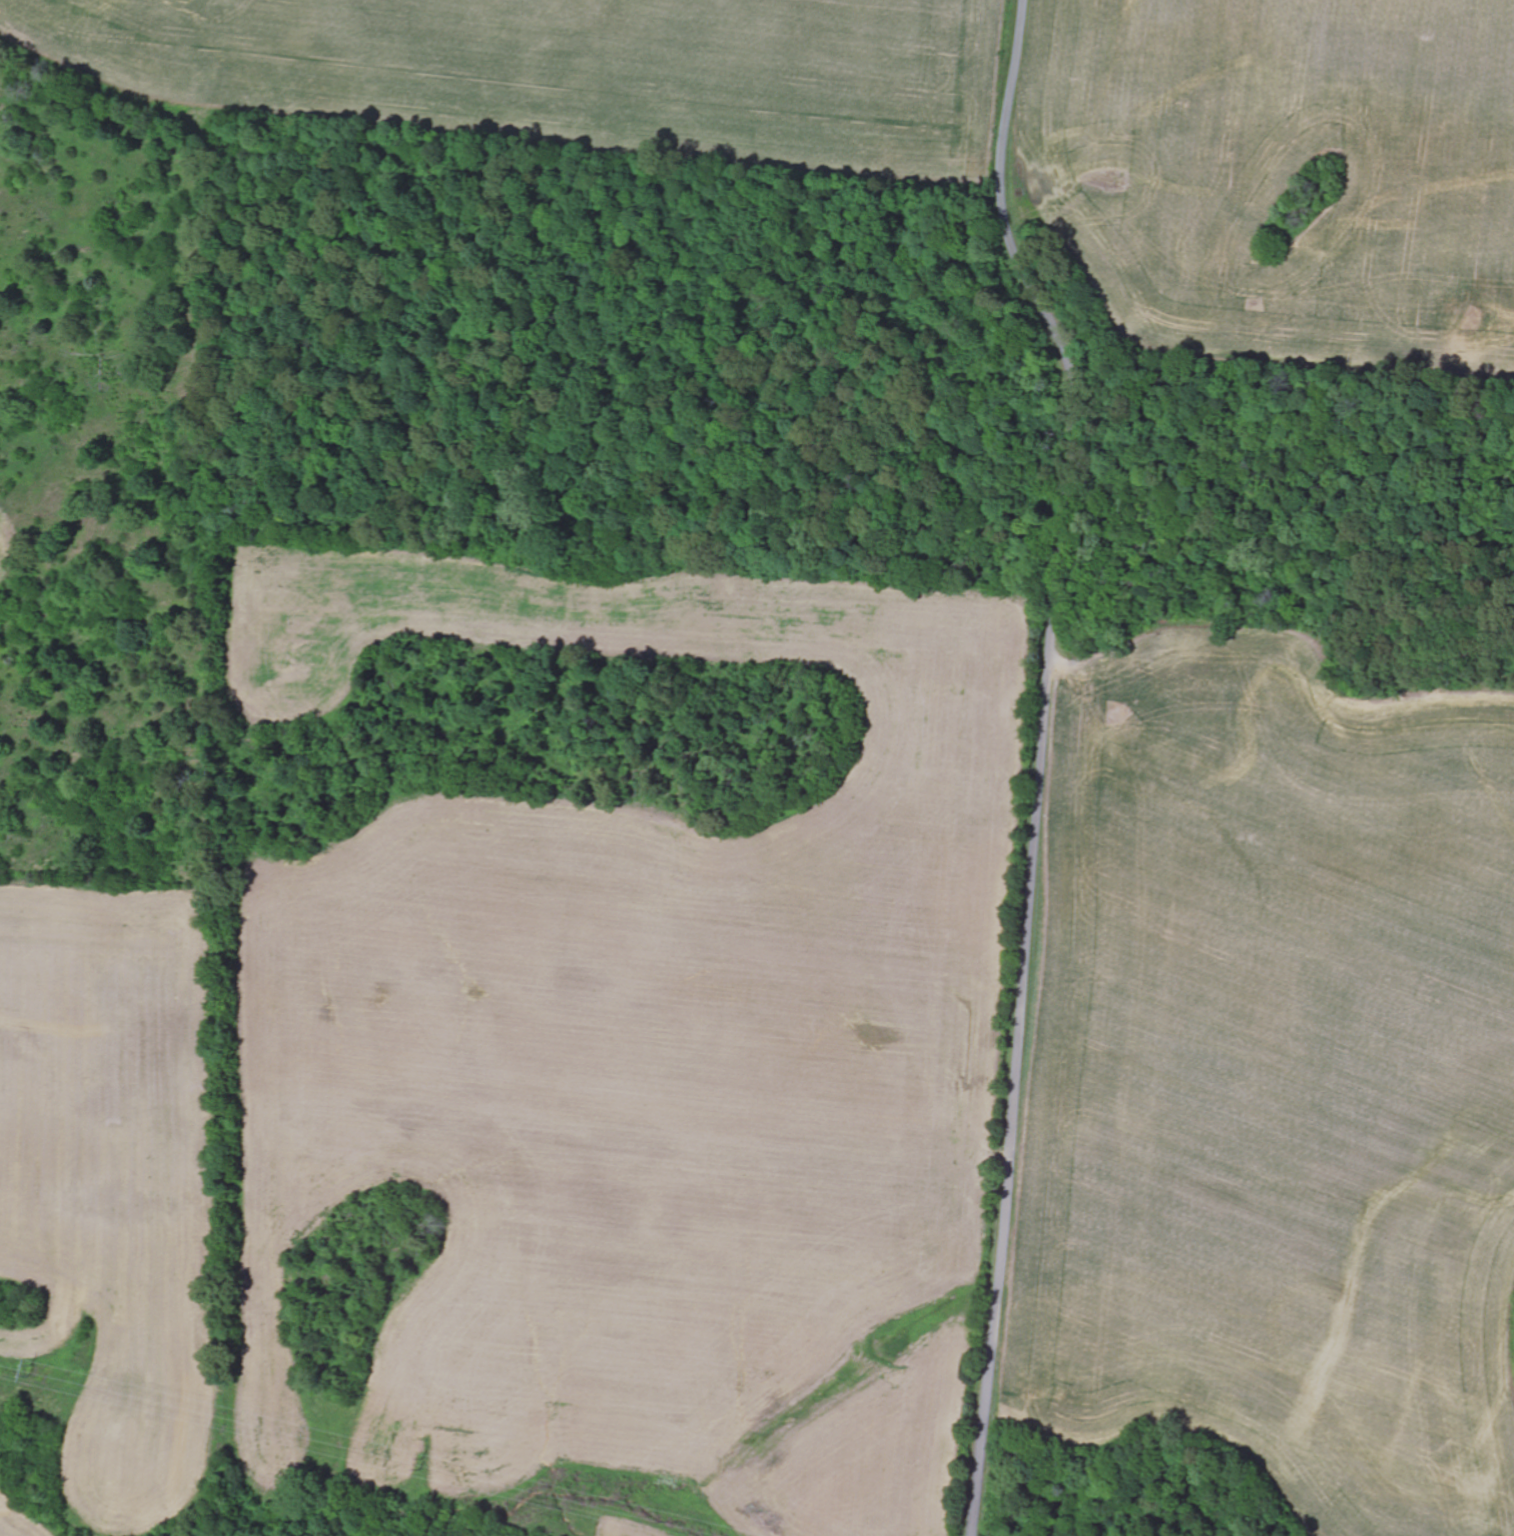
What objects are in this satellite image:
road: (1050, 638)
road: (941, 1129)
power tower: (34, 1373)
road: (986, 1417)
power tower: (430, 1461)

